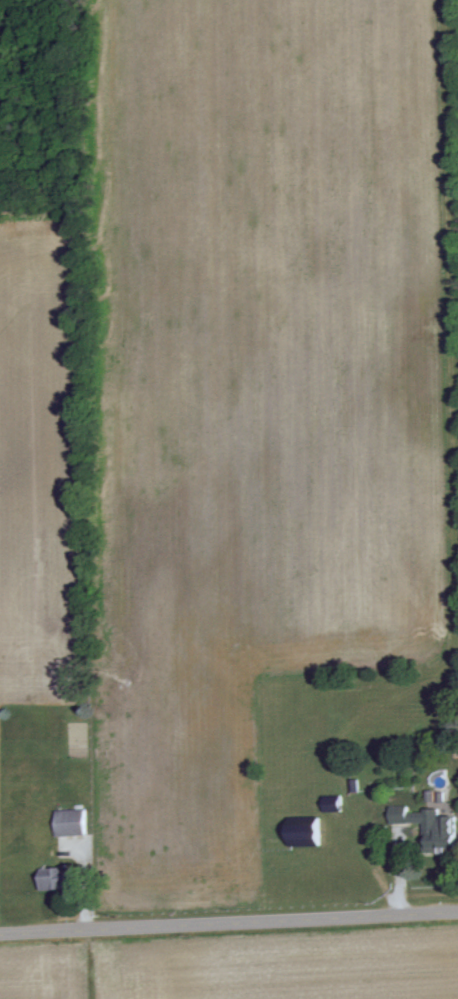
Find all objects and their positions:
building: (426, 826)
building: (69, 827)
building: (305, 832)
building: (55, 877)
road: (228, 921)

